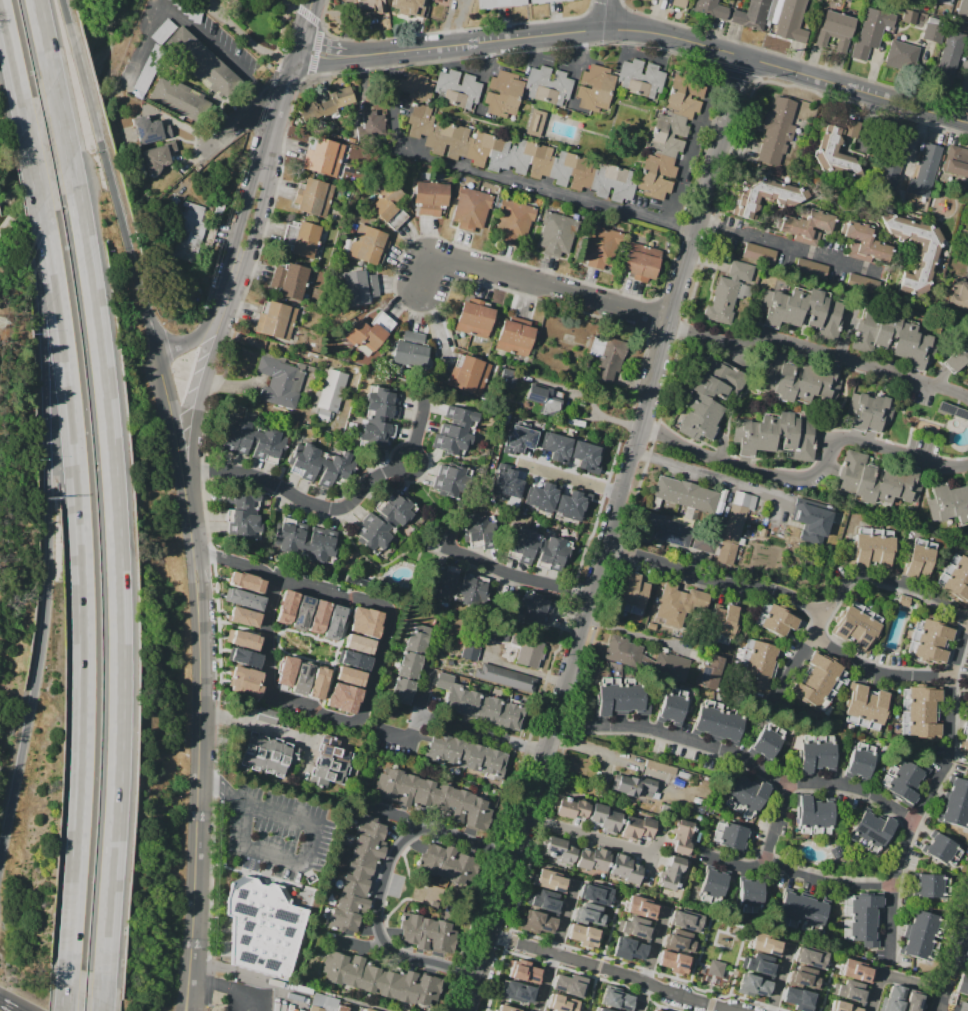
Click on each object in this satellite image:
building: (446, 0)
building: (407, 2)
building: (944, 2)
building: (678, 3)
building: (519, 4)
building: (370, 5)
building: (962, 8)
building: (710, 9)
road: (606, 15)
building: (751, 15)
building: (909, 17)
road: (69, 21)
road: (90, 21)
building: (791, 21)
park: (255, 25)
building: (835, 30)
building: (933, 30)
road: (305, 31)
road: (639, 31)
building: (871, 32)
road: (247, 37)
road: (44, 40)
road: (217, 48)
building: (901, 56)
building: (947, 62)
building: (203, 63)
road: (13, 64)
building: (150, 68)
building: (639, 78)
road: (84, 79)
building: (415, 87)
building: (594, 88)
building: (456, 89)
building: (525, 90)
building: (179, 99)
building: (336, 101)
road: (251, 107)
road: (278, 113)
road: (871, 114)
building: (419, 120)
road: (61, 121)
building: (534, 122)
building: (373, 123)
building: (150, 130)
building: (776, 130)
building: (669, 136)
building: (836, 142)
building: (323, 156)
building: (157, 158)
building: (530, 160)
building: (892, 161)
building: (956, 161)
road: (34, 165)
building: (924, 171)
road: (10, 176)
road: (500, 178)
building: (313, 197)
building: (766, 197)
building: (429, 198)
building: (388, 204)
road: (243, 209)
building: (471, 209)
road: (256, 214)
building: (513, 220)
building: (808, 226)
building: (186, 230)
building: (556, 234)
road: (127, 237)
building: (303, 238)
building: (865, 243)
building: (368, 245)
road: (788, 247)
building: (601, 248)
building: (916, 250)
building: (758, 253)
building: (641, 262)
building: (810, 268)
road: (230, 278)
building: (290, 280)
building: (863, 284)
road: (535, 285)
building: (360, 287)
building: (727, 293)
building: (959, 295)
building: (803, 311)
building: (475, 318)
building: (275, 320)
building: (367, 332)
road: (201, 336)
building: (893, 336)
building: (515, 339)
building: (409, 349)
road: (818, 350)
building: (958, 357)
building: (606, 358)
building: (469, 374)
building: (507, 377)
building: (798, 378)
building: (279, 381)
road: (203, 384)
building: (330, 395)
building: (544, 399)
building: (708, 400)
building: (868, 412)
building: (378, 418)
road: (569, 419)
building: (455, 430)
building: (777, 435)
building: (255, 439)
building: (520, 440)
building: (572, 451)
building: (321, 464)
road: (683, 469)
road: (569, 476)
road: (812, 478)
building: (448, 479)
building: (877, 480)
building: (507, 484)
building: (687, 495)
building: (558, 501)
building: (948, 503)
road: (333, 508)
building: (688, 513)
building: (244, 514)
building: (384, 521)
building: (813, 523)
building: (733, 527)
building: (667, 529)
building: (478, 530)
road: (51, 534)
road: (608, 534)
building: (704, 541)
building: (304, 542)
building: (537, 548)
building: (872, 548)
building: (919, 557)
road: (510, 571)
road: (121, 577)
road: (80, 579)
building: (955, 579)
building: (355, 580)
building: (245, 581)
road: (715, 582)
building: (458, 586)
building: (632, 594)
building: (243, 598)
building: (678, 604)
building: (285, 606)
building: (535, 608)
building: (301, 612)
road: (826, 612)
building: (243, 616)
building: (317, 616)
building: (775, 619)
building: (333, 621)
building: (364, 621)
building: (722, 624)
building: (857, 625)
road: (635, 633)
building: (242, 638)
building: (929, 639)
building: (358, 643)
building: (469, 650)
building: (529, 652)
road: (960, 653)
building: (243, 657)
building: (645, 658)
building: (353, 659)
building: (757, 663)
building: (409, 664)
road: (370, 666)
road: (513, 666)
building: (285, 670)
building: (710, 672)
building: (348, 675)
building: (301, 677)
building: (506, 677)
building: (967, 679)
building: (244, 680)
road: (202, 681)
building: (818, 681)
building: (317, 682)
building: (967, 690)
building: (342, 697)
building: (619, 697)
building: (673, 706)
building: (484, 707)
building: (864, 707)
road: (420, 709)
building: (920, 712)
building: (267, 715)
road: (950, 718)
building: (718, 722)
road: (605, 724)
road: (257, 727)
road: (481, 734)
building: (966, 737)
road: (685, 740)
building: (766, 741)
road: (398, 742)
building: (265, 753)
building: (816, 753)
building: (466, 755)
building: (861, 760)
road: (948, 760)
building: (330, 763)
building: (660, 767)
building: (682, 775)
building: (902, 781)
building: (635, 786)
road: (932, 791)
building: (747, 795)
building: (433, 798)
building: (955, 803)
building: (571, 807)
building: (814, 814)
road: (394, 815)
building: (605, 818)
road: (775, 827)
building: (637, 828)
building: (872, 831)
building: (731, 835)
road: (591, 836)
building: (682, 837)
road: (907, 841)
road: (316, 845)
building: (558, 850)
building: (941, 850)
building: (836, 852)
building: (593, 858)
building: (449, 863)
building: (625, 869)
building: (672, 872)
building: (358, 874)
building: (549, 879)
road: (385, 884)
building: (713, 885)
building: (395, 886)
building: (931, 886)
building: (597, 893)
building: (750, 894)
building: (545, 901)
building: (433, 904)
building: (641, 906)
building: (801, 912)
building: (589, 915)
building: (861, 918)
building: (687, 920)
building: (536, 922)
road: (966, 923)
road: (889, 925)
building: (263, 927)
building: (635, 928)
building: (428, 933)
building: (585, 935)
building: (921, 936)
building: (680, 941)
road: (557, 942)
building: (758, 942)
road: (356, 944)
building: (628, 949)
parking lot: (965, 956)
road: (569, 957)
road: (650, 958)
building: (813, 959)
building: (675, 962)
road: (953, 962)
road: (960, 962)
building: (754, 965)
building: (857, 970)
building: (714, 971)
road: (883, 976)
road: (780, 977)
building: (515, 978)
building: (380, 979)
building: (809, 981)
building: (962, 983)
road: (68, 984)
building: (746, 985)
road: (225, 989)
building: (850, 992)
building: (585, 996)
building: (616, 998)
building: (891, 998)
road: (686, 999)
building: (801, 1001)
building: (912, 1002)
building: (560, 1003)
road: (106, 1004)
building: (325, 1004)
road: (9, 1006)
building: (843, 1006)
building: (963, 1006)
building: (506, 1008)
road: (188, 1009)
road: (189, 1009)
building: (368, 1010)
building: (651, 1010)

